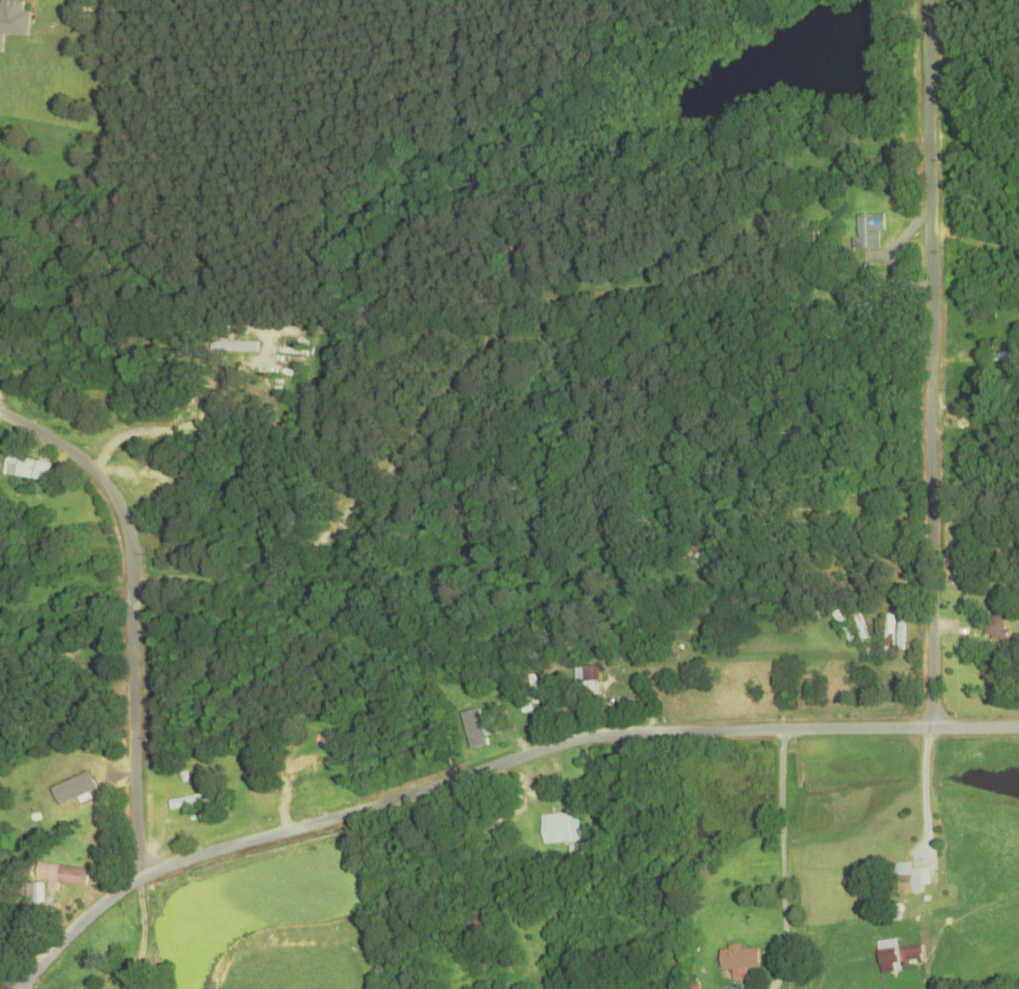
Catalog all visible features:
building: (868, 232)
building: (818, 237)
building: (996, 337)
building: (241, 347)
road: (931, 363)
building: (26, 469)
building: (160, 475)
building: (693, 551)
building: (1009, 582)
road: (133, 617)
building: (843, 626)
building: (995, 626)
building: (827, 633)
building: (863, 634)
building: (889, 636)
building: (586, 681)
building: (474, 729)
road: (568, 740)
building: (186, 803)
building: (560, 829)
road: (785, 845)
building: (60, 875)
building: (908, 879)
building: (35, 894)
building: (895, 912)
building: (479, 917)
road: (75, 929)
road: (142, 930)
building: (895, 956)
building: (738, 961)

